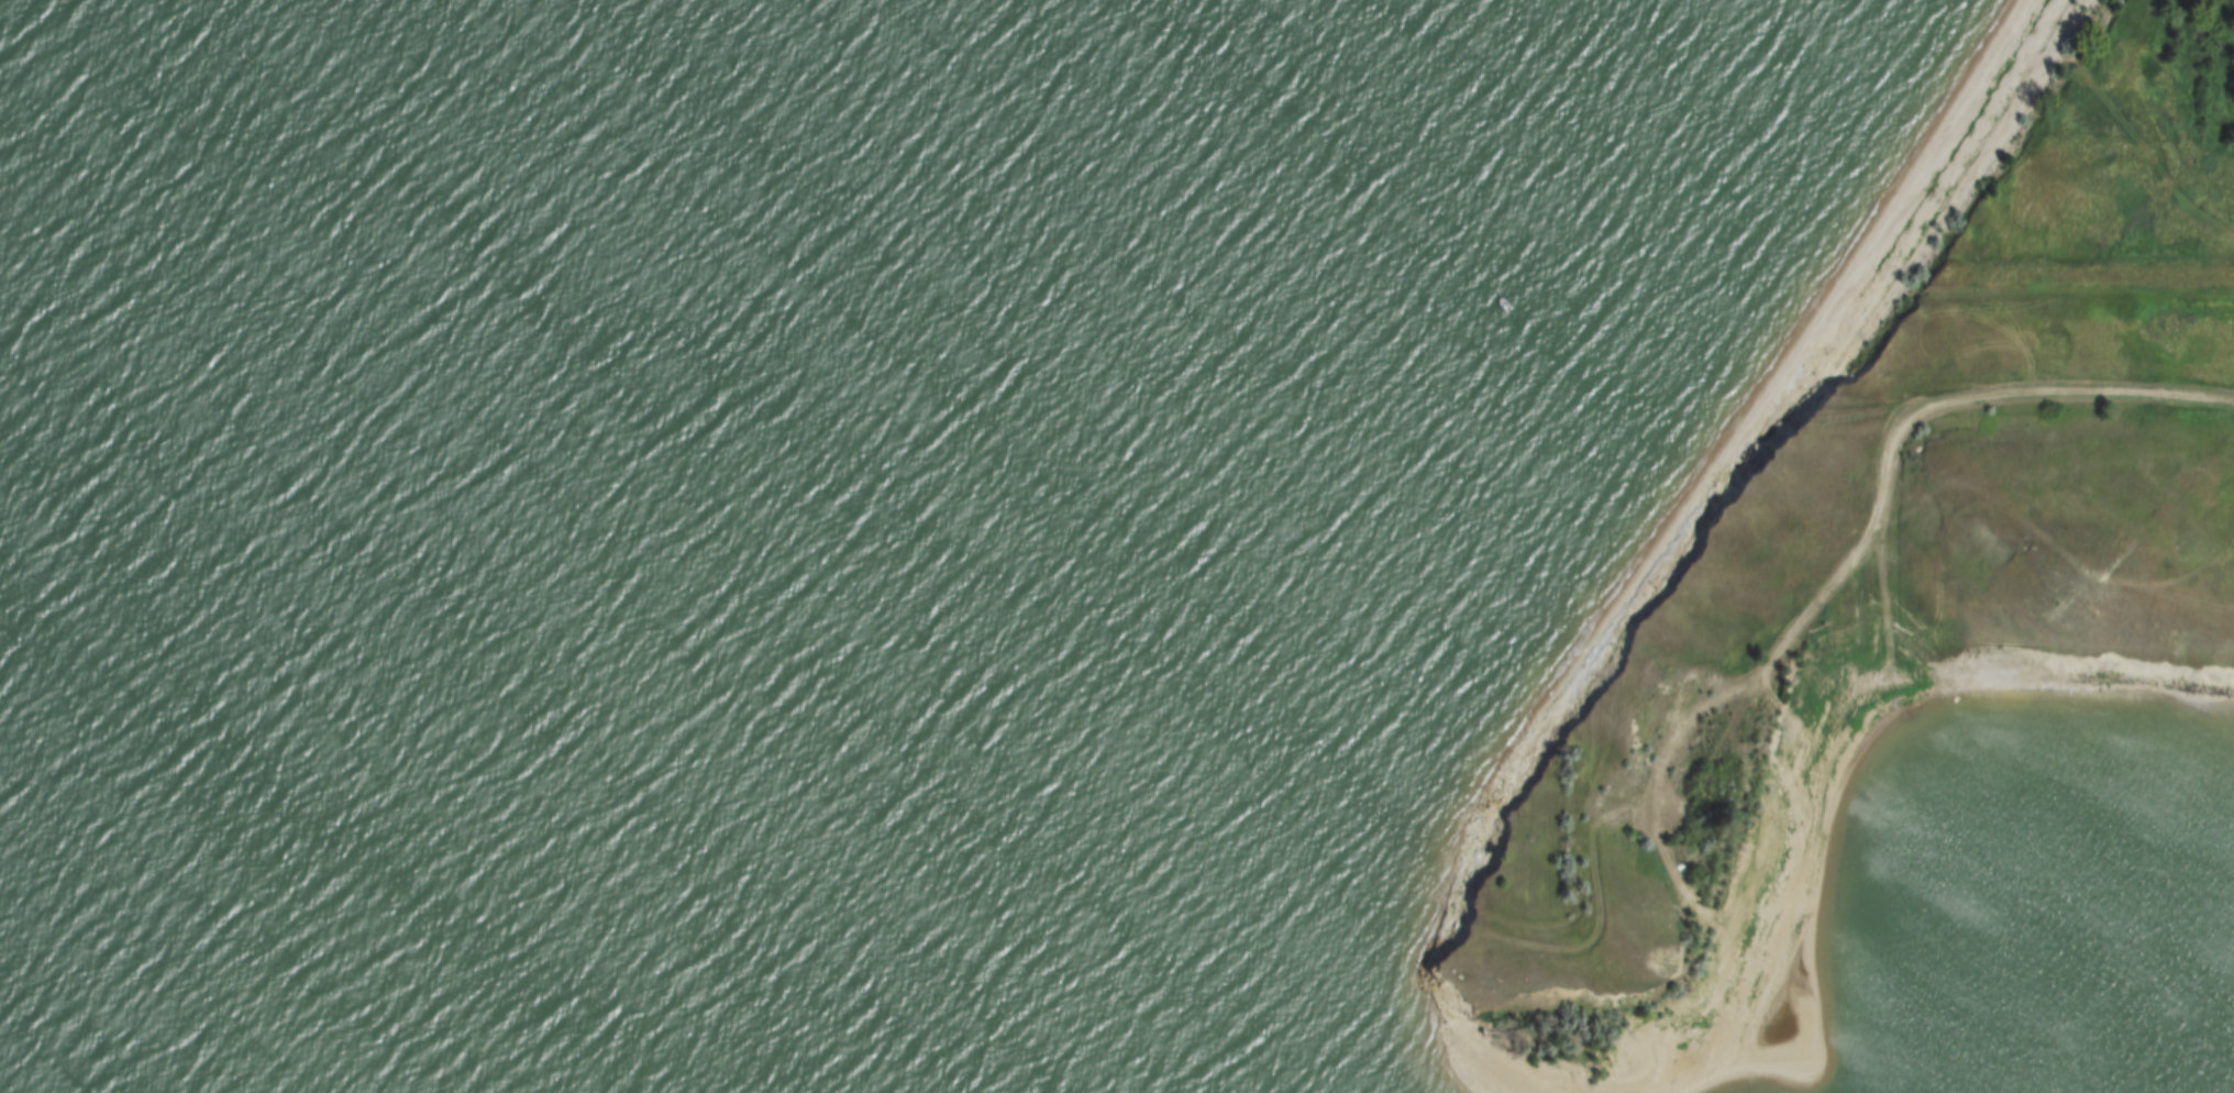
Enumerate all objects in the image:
road: (1916, 400)

